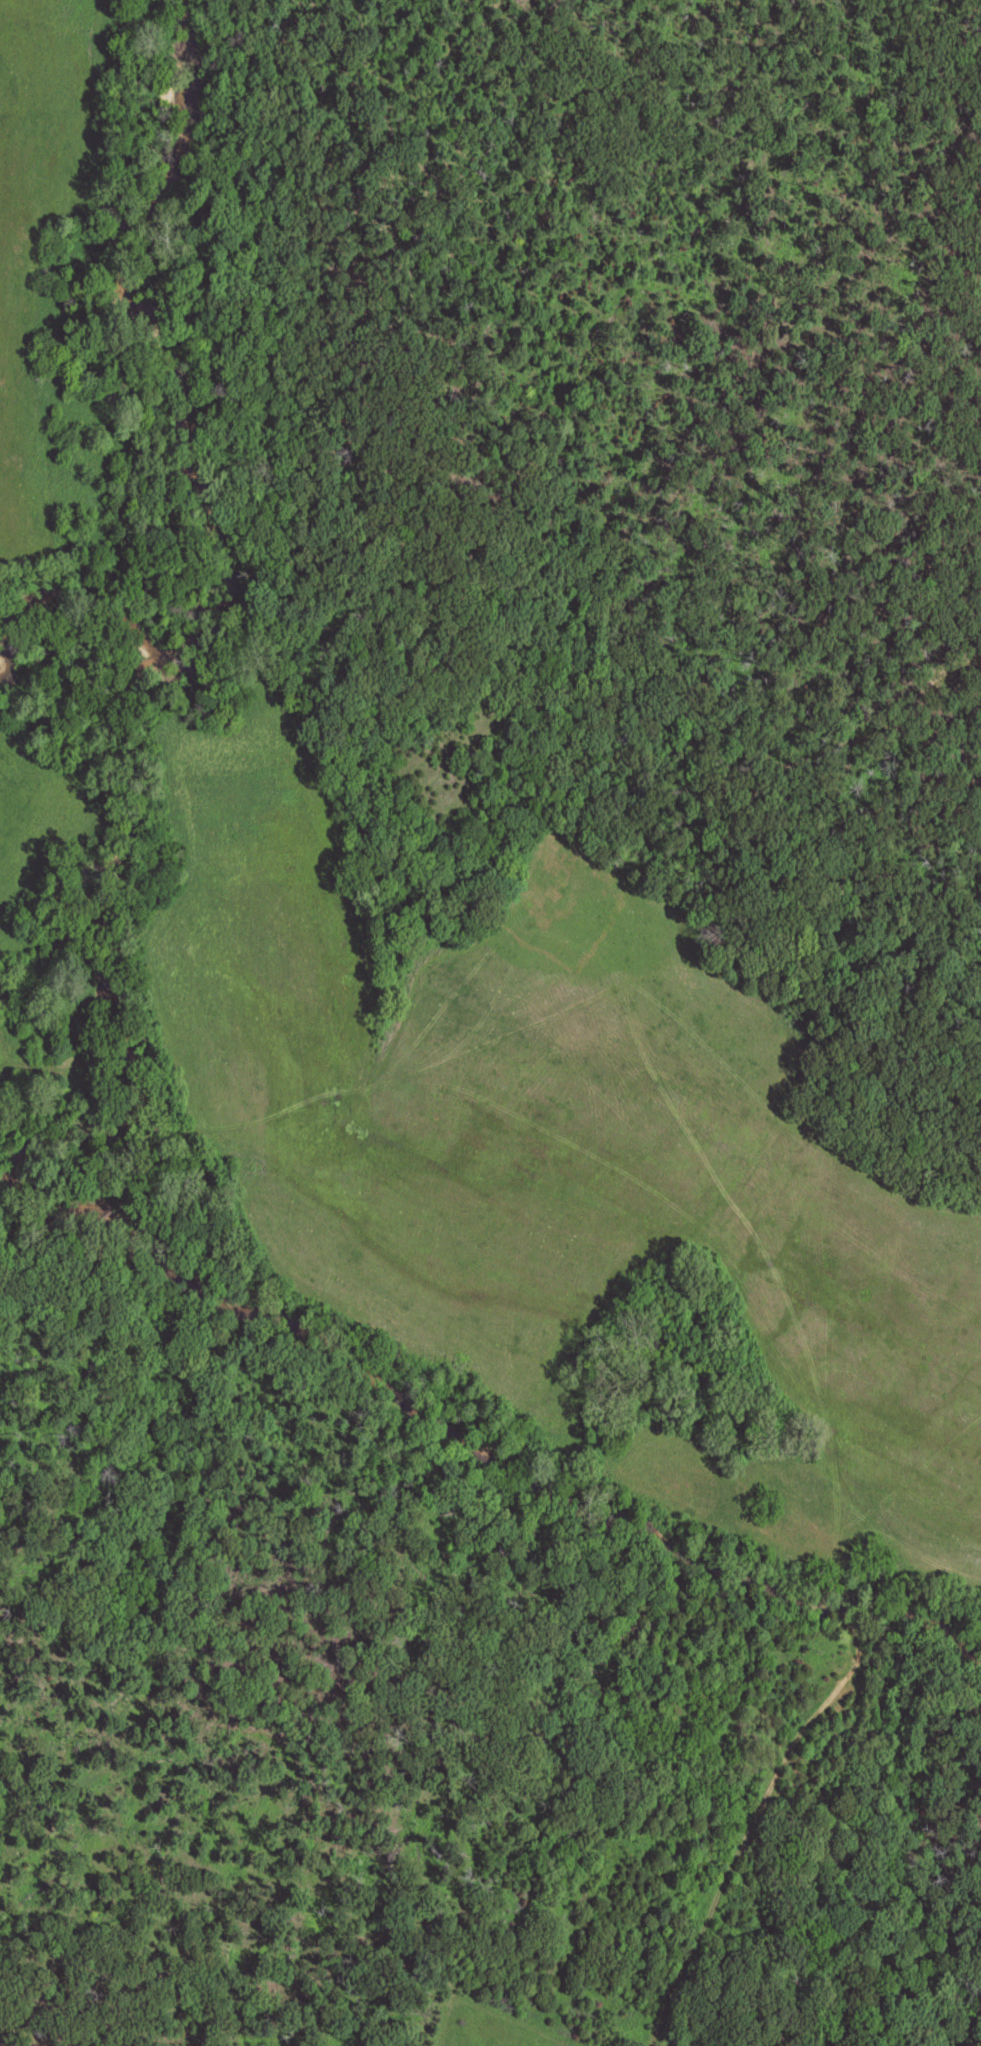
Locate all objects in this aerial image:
road: (71, 707)

